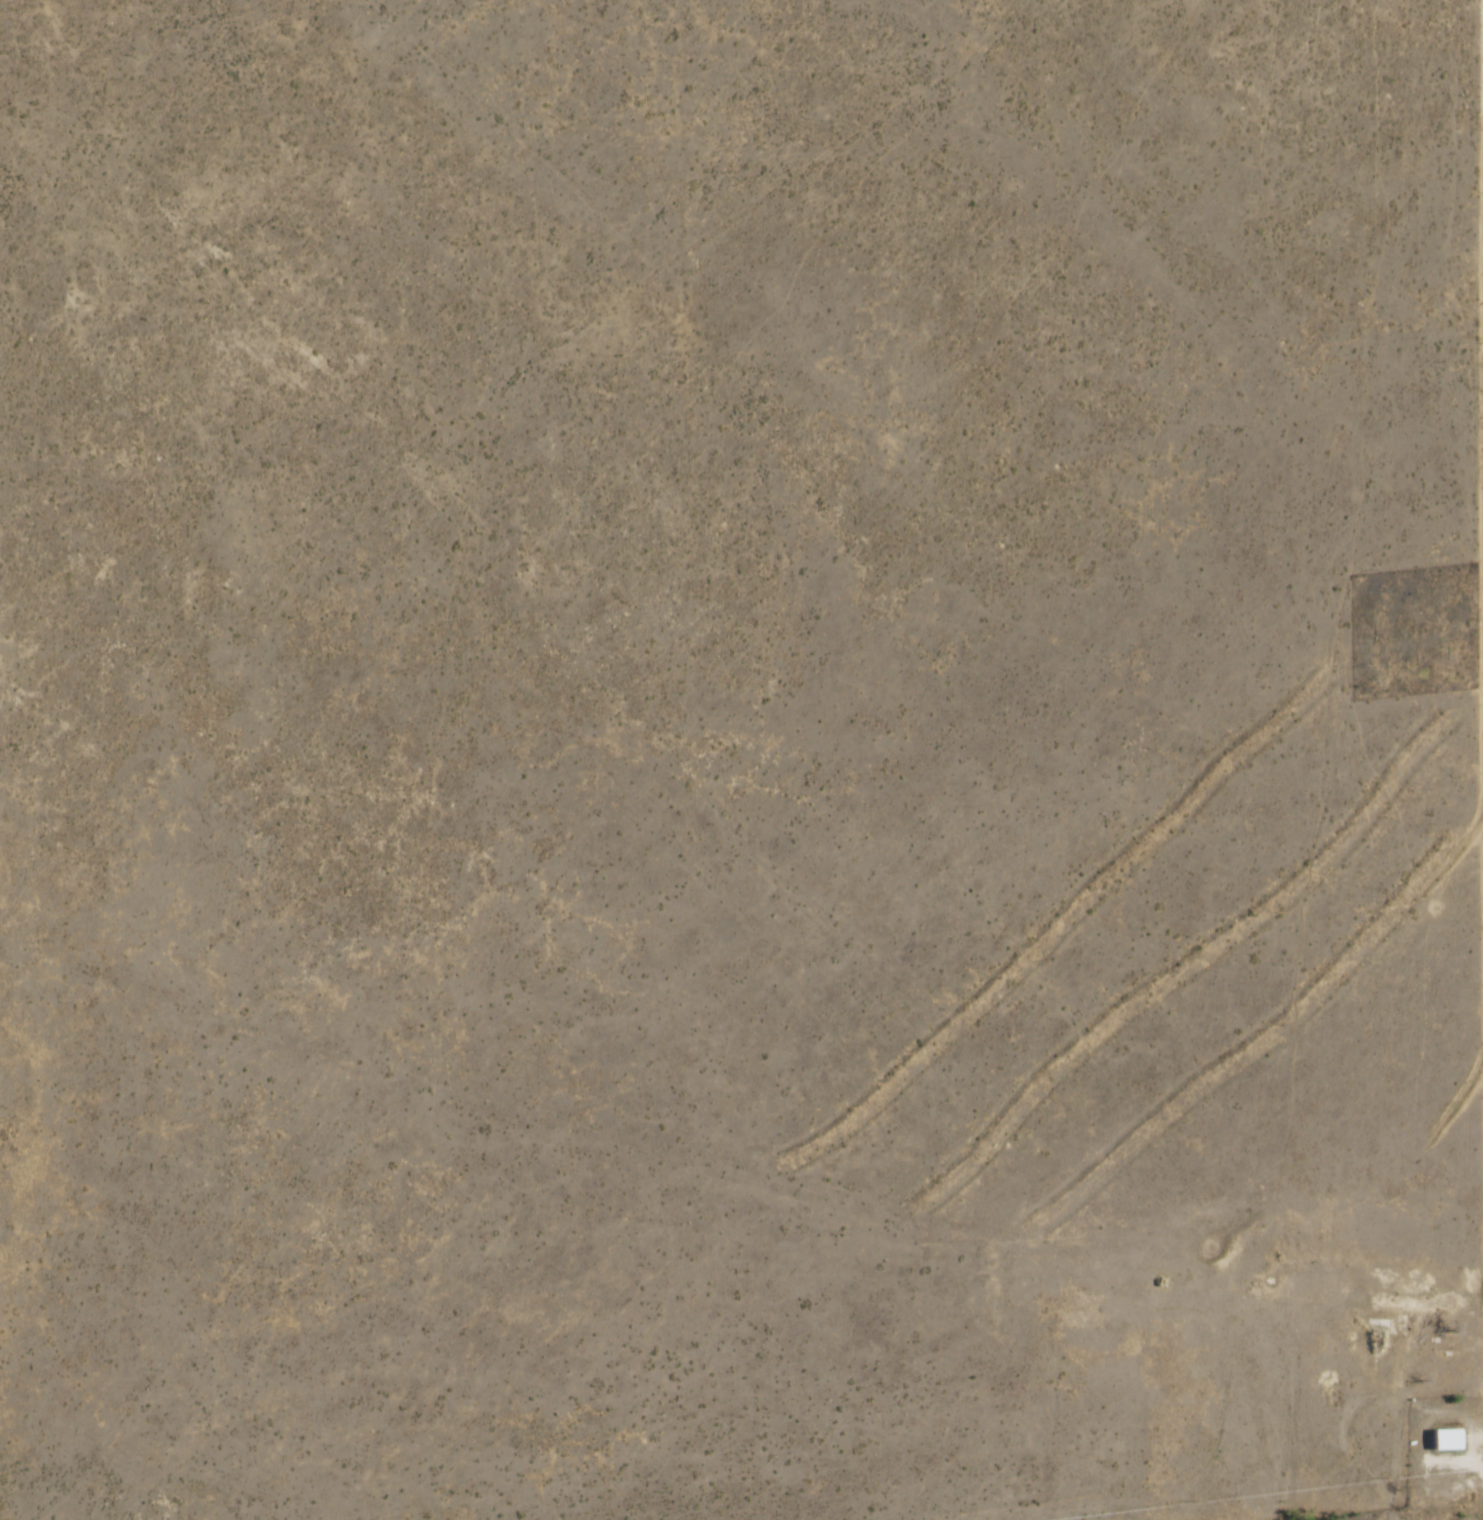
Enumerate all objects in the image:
park: (1413, 629)
building: (1443, 1438)

